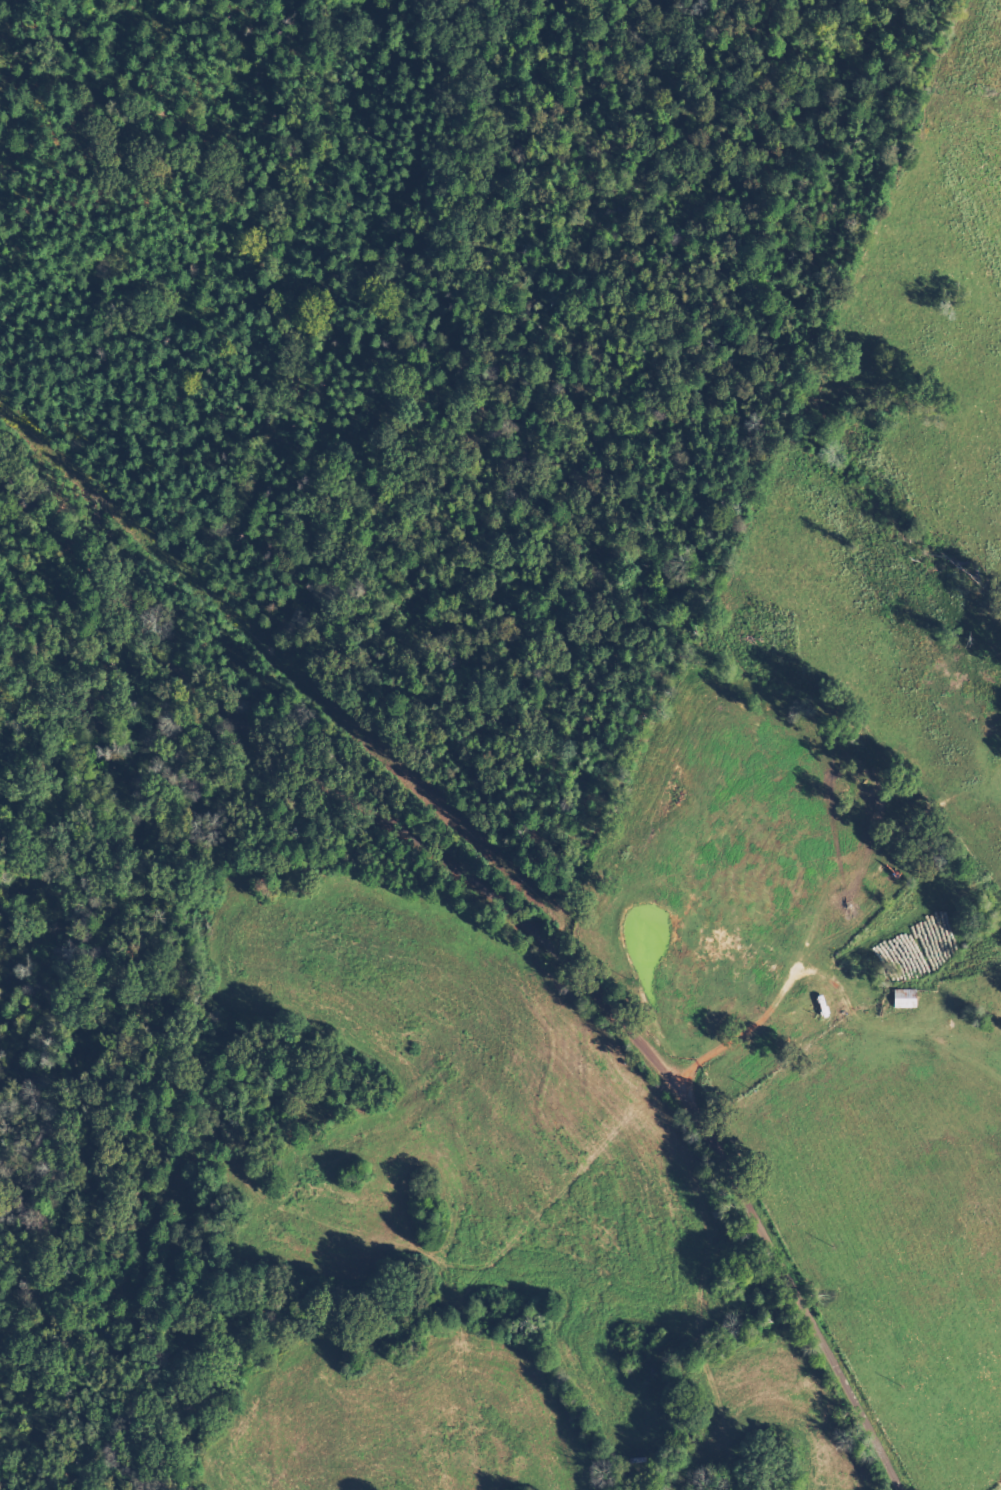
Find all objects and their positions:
road: (496, 947)
building: (905, 999)

